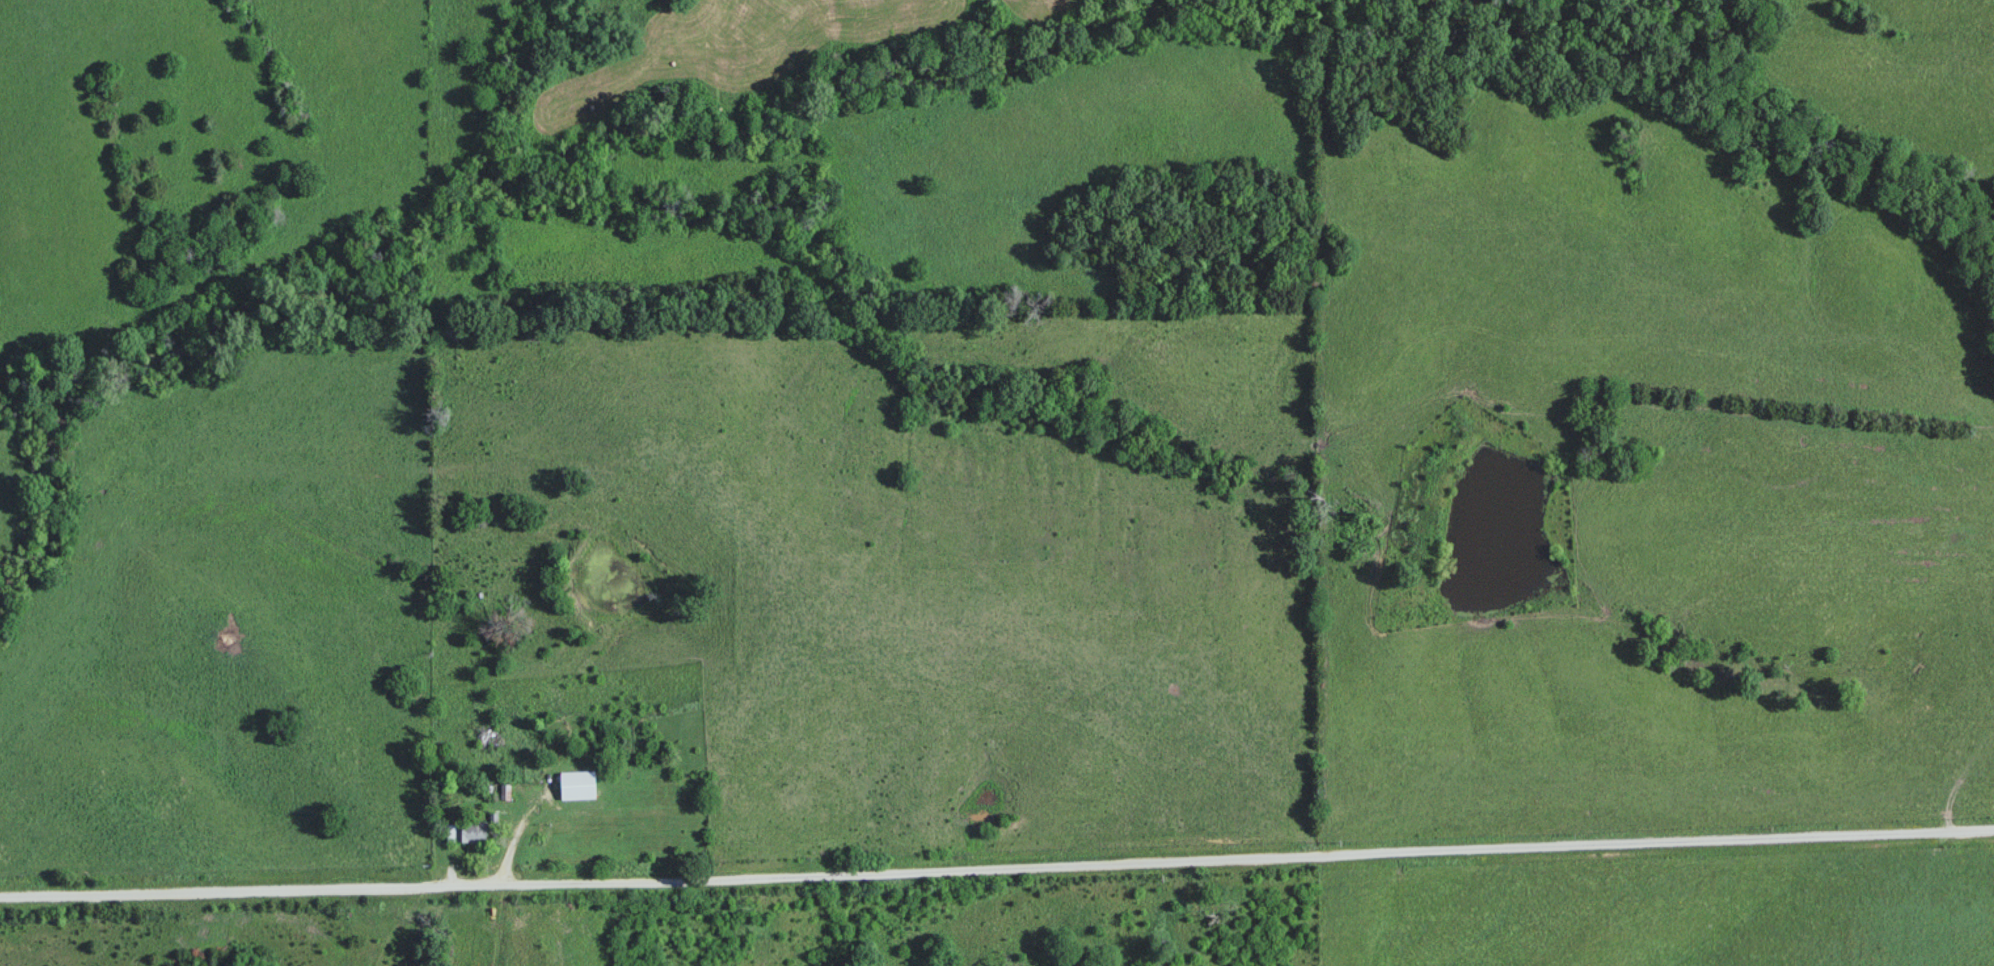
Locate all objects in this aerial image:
building: (527, 803)
building: (468, 833)
road: (997, 866)

